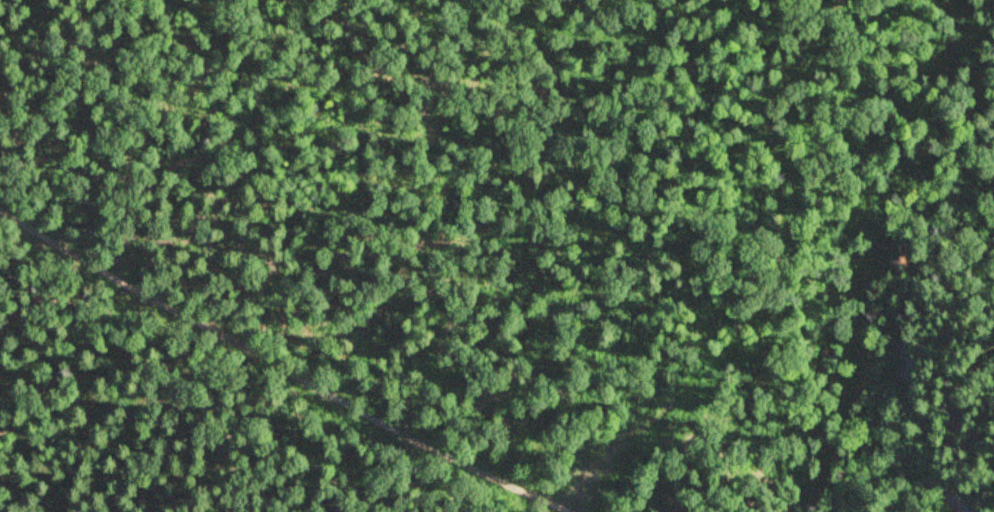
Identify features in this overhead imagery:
road: (264, 347)

